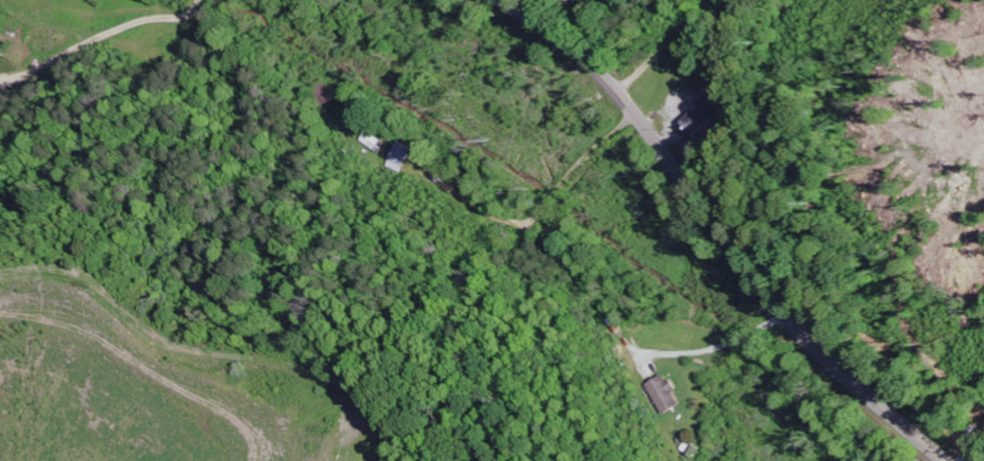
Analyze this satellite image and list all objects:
building: (700, 117)
building: (370, 140)
building: (399, 156)
road: (716, 230)
building: (663, 393)

